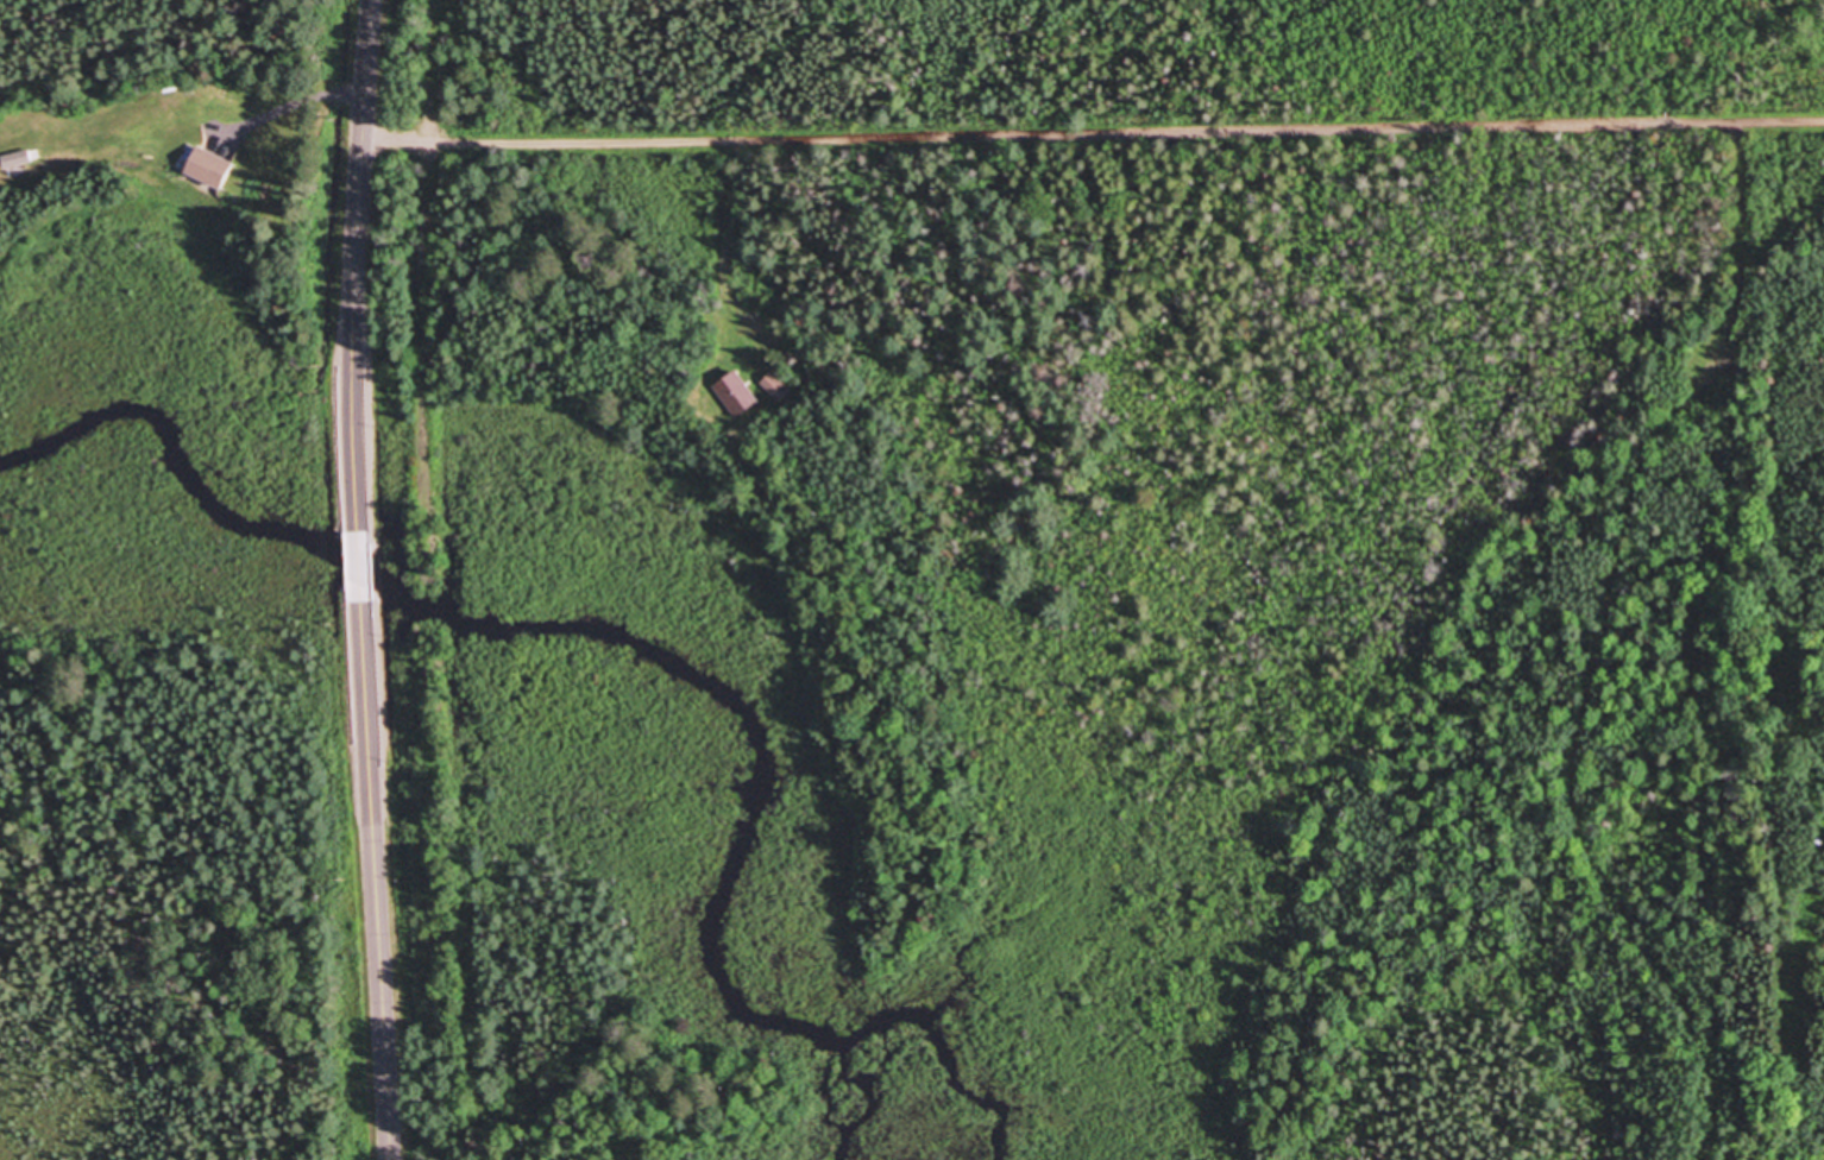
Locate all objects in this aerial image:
road: (1093, 132)
building: (212, 168)
road: (357, 253)
road: (424, 284)
building: (778, 384)
road: (358, 554)
river: (616, 632)
road: (444, 864)
road: (376, 880)

